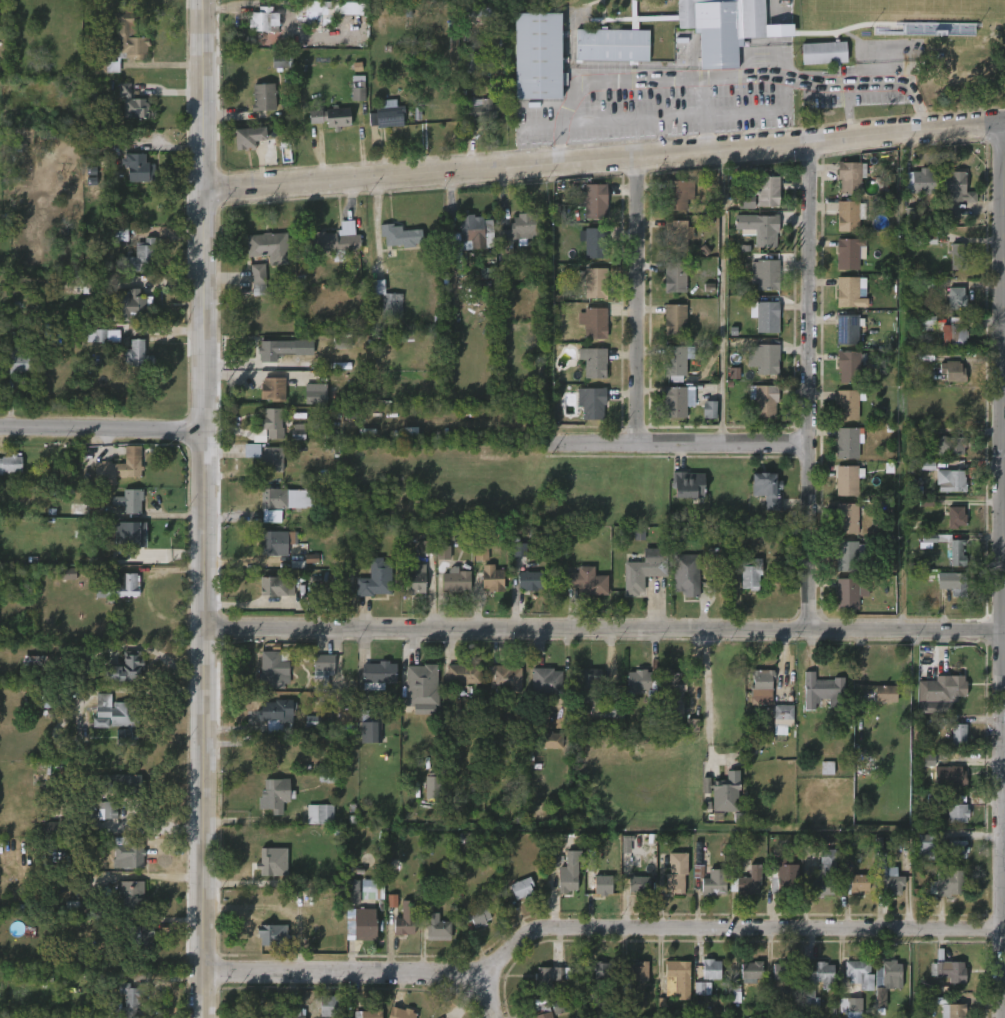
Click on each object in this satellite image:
building: (482, 11)
building: (316, 17)
building: (260, 19)
building: (748, 35)
building: (121, 43)
building: (824, 52)
building: (541, 57)
building: (280, 61)
building: (470, 63)
road: (670, 77)
road: (900, 83)
building: (358, 94)
road: (703, 96)
building: (262, 97)
road: (657, 97)
building: (131, 103)
building: (482, 110)
road: (847, 111)
road: (760, 112)
building: (391, 114)
building: (330, 116)
road: (681, 116)
road: (609, 119)
road: (705, 132)
road: (659, 135)
building: (247, 137)
road: (605, 158)
building: (128, 162)
building: (851, 176)
building: (920, 181)
building: (767, 191)
building: (955, 193)
building: (677, 194)
building: (594, 200)
building: (746, 201)
building: (556, 210)
building: (915, 214)
building: (849, 215)
building: (759, 228)
building: (520, 233)
building: (120, 234)
building: (467, 234)
building: (677, 234)
building: (400, 235)
building: (928, 238)
building: (335, 240)
building: (593, 242)
building: (268, 246)
building: (848, 253)
building: (139, 256)
building: (958, 257)
building: (487, 273)
building: (766, 274)
building: (676, 276)
building: (258, 279)
building: (594, 282)
building: (91, 284)
building: (480, 289)
building: (848, 290)
road: (722, 295)
building: (956, 298)
road: (638, 299)
building: (387, 301)
building: (137, 303)
building: (767, 317)
building: (674, 319)
building: (593, 323)
building: (927, 323)
building: (848, 329)
building: (953, 332)
building: (103, 335)
building: (273, 350)
building: (135, 354)
building: (764, 359)
building: (16, 360)
building: (593, 362)
building: (676, 362)
building: (849, 366)
building: (953, 371)
building: (733, 373)
road: (809, 386)
building: (272, 389)
building: (315, 394)
building: (764, 399)
building: (677, 401)
building: (592, 402)
building: (849, 404)
building: (709, 409)
building: (273, 423)
road: (1004, 424)
road: (103, 429)
building: (298, 430)
building: (410, 433)
building: (848, 442)
road: (678, 443)
building: (948, 444)
building: (271, 459)
building: (129, 463)
building: (9, 464)
building: (849, 480)
building: (951, 481)
building: (688, 485)
building: (767, 489)
building: (128, 501)
building: (281, 502)
road: (207, 508)
building: (956, 517)
building: (848, 518)
building: (126, 533)
building: (639, 534)
building: (936, 539)
building: (276, 542)
building: (425, 547)
building: (519, 550)
building: (443, 553)
building: (960, 553)
building: (848, 556)
road: (1004, 570)
building: (68, 574)
building: (642, 574)
building: (753, 574)
building: (687, 576)
building: (375, 579)
building: (415, 579)
building: (491, 579)
building: (456, 580)
building: (531, 580)
building: (586, 581)
building: (954, 583)
building: (119, 586)
building: (276, 586)
building: (847, 594)
road: (605, 630)
building: (127, 668)
building: (275, 669)
building: (86, 671)
building: (323, 672)
building: (463, 673)
building: (378, 674)
building: (505, 678)
building: (637, 680)
building: (546, 681)
building: (762, 681)
building: (588, 683)
building: (421, 684)
building: (49, 688)
building: (944, 688)
building: (824, 690)
building: (674, 692)
building: (886, 692)
building: (613, 693)
road: (709, 693)
building: (612, 710)
building: (277, 714)
building: (783, 714)
building: (117, 717)
building: (345, 717)
building: (370, 725)
building: (957, 736)
building: (550, 739)
building: (268, 751)
building: (930, 760)
building: (827, 768)
building: (862, 768)
building: (952, 775)
building: (327, 777)
building: (123, 783)
building: (433, 786)
building: (274, 794)
building: (724, 794)
building: (106, 809)
building: (957, 812)
building: (319, 813)
building: (53, 825)
road: (1004, 831)
building: (925, 847)
building: (957, 848)
building: (129, 855)
building: (700, 857)
building: (269, 863)
building: (676, 871)
building: (379, 873)
building: (824, 873)
building: (568, 876)
building: (785, 878)
building: (747, 881)
building: (854, 881)
building: (714, 882)
building: (948, 882)
building: (889, 883)
building: (639, 884)
building: (602, 885)
building: (522, 887)
building: (361, 890)
building: (426, 896)
building: (132, 897)
building: (475, 915)
building: (404, 918)
building: (366, 926)
road: (595, 927)
building: (438, 928)
building: (133, 933)
building: (272, 934)
building: (710, 968)
building: (857, 968)
building: (783, 970)
building: (751, 971)
building: (946, 971)
building: (894, 973)
building: (548, 975)
building: (600, 977)
building: (631, 979)
building: (677, 979)
building: (828, 985)
building: (702, 989)
road: (488, 998)
building: (125, 1003)
building: (850, 1005)
building: (331, 1006)
building: (282, 1010)
building: (953, 1010)
building: (542, 1011)
building: (368, 1013)
building: (402, 1013)

